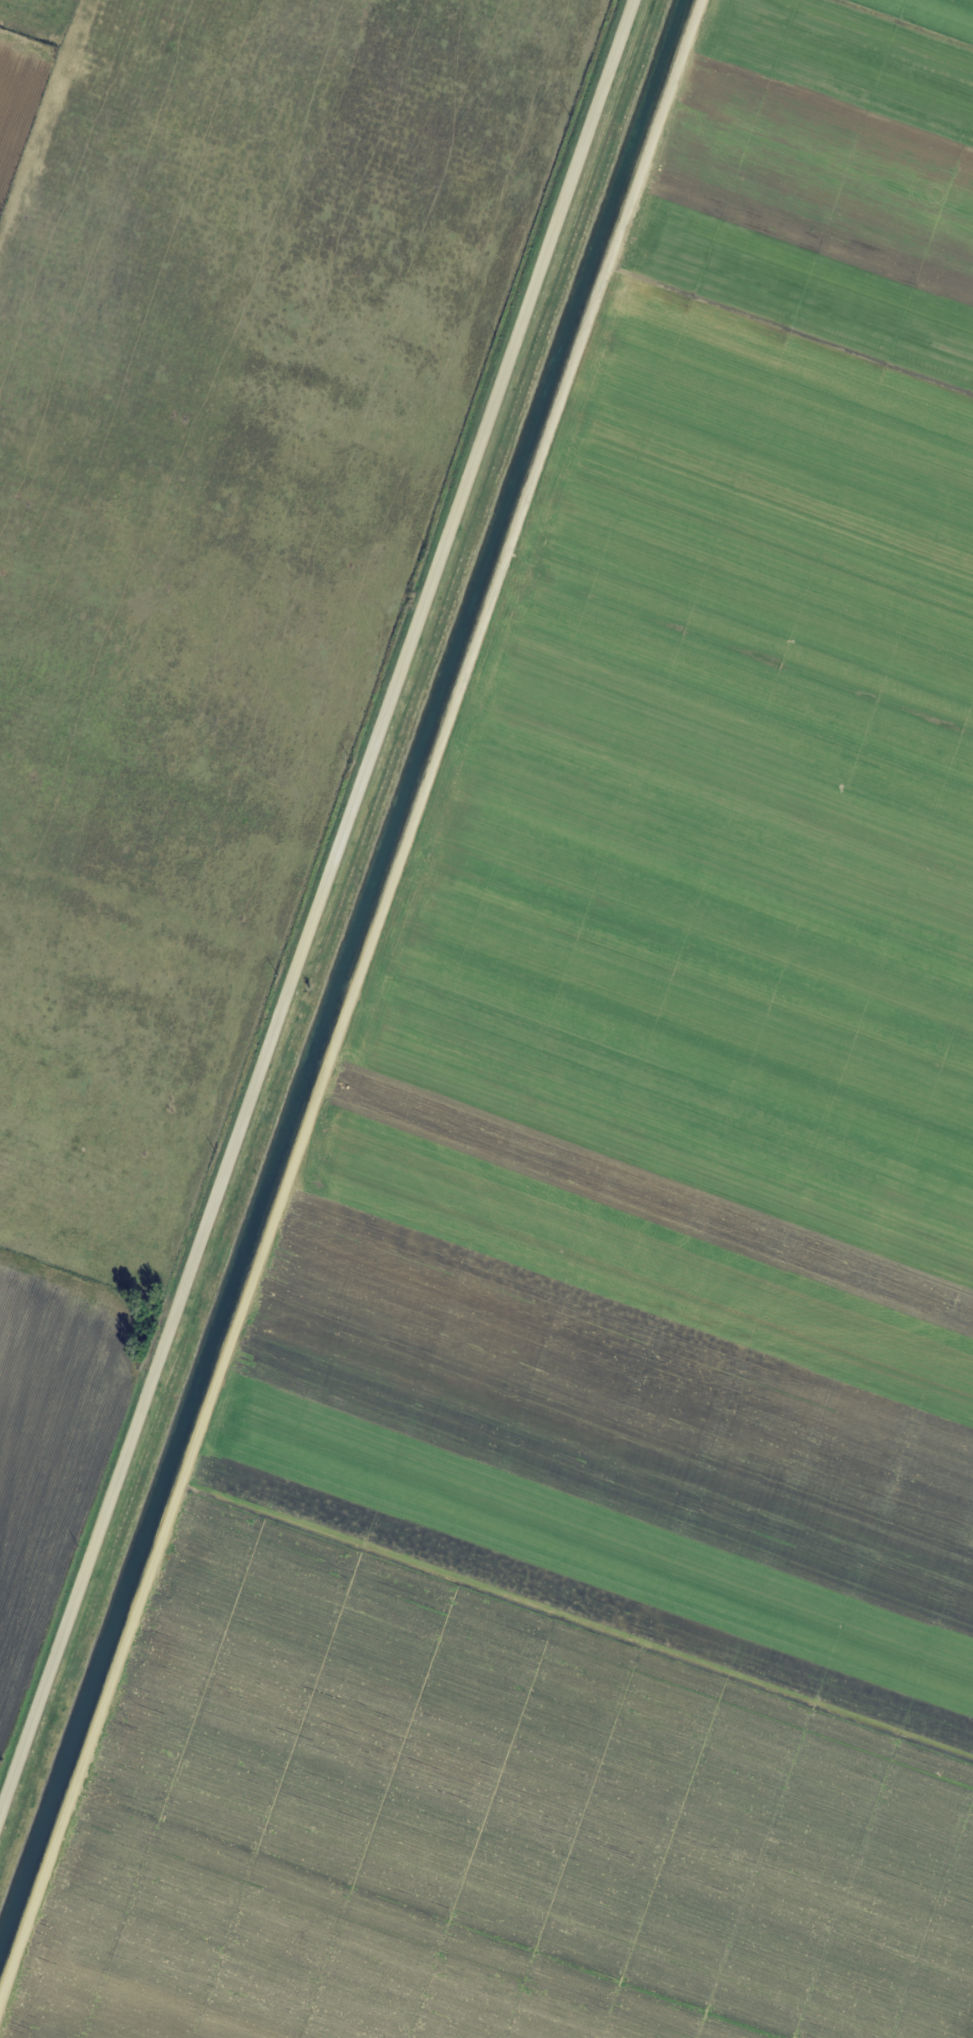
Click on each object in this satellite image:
road: (321, 921)
road: (349, 1007)

